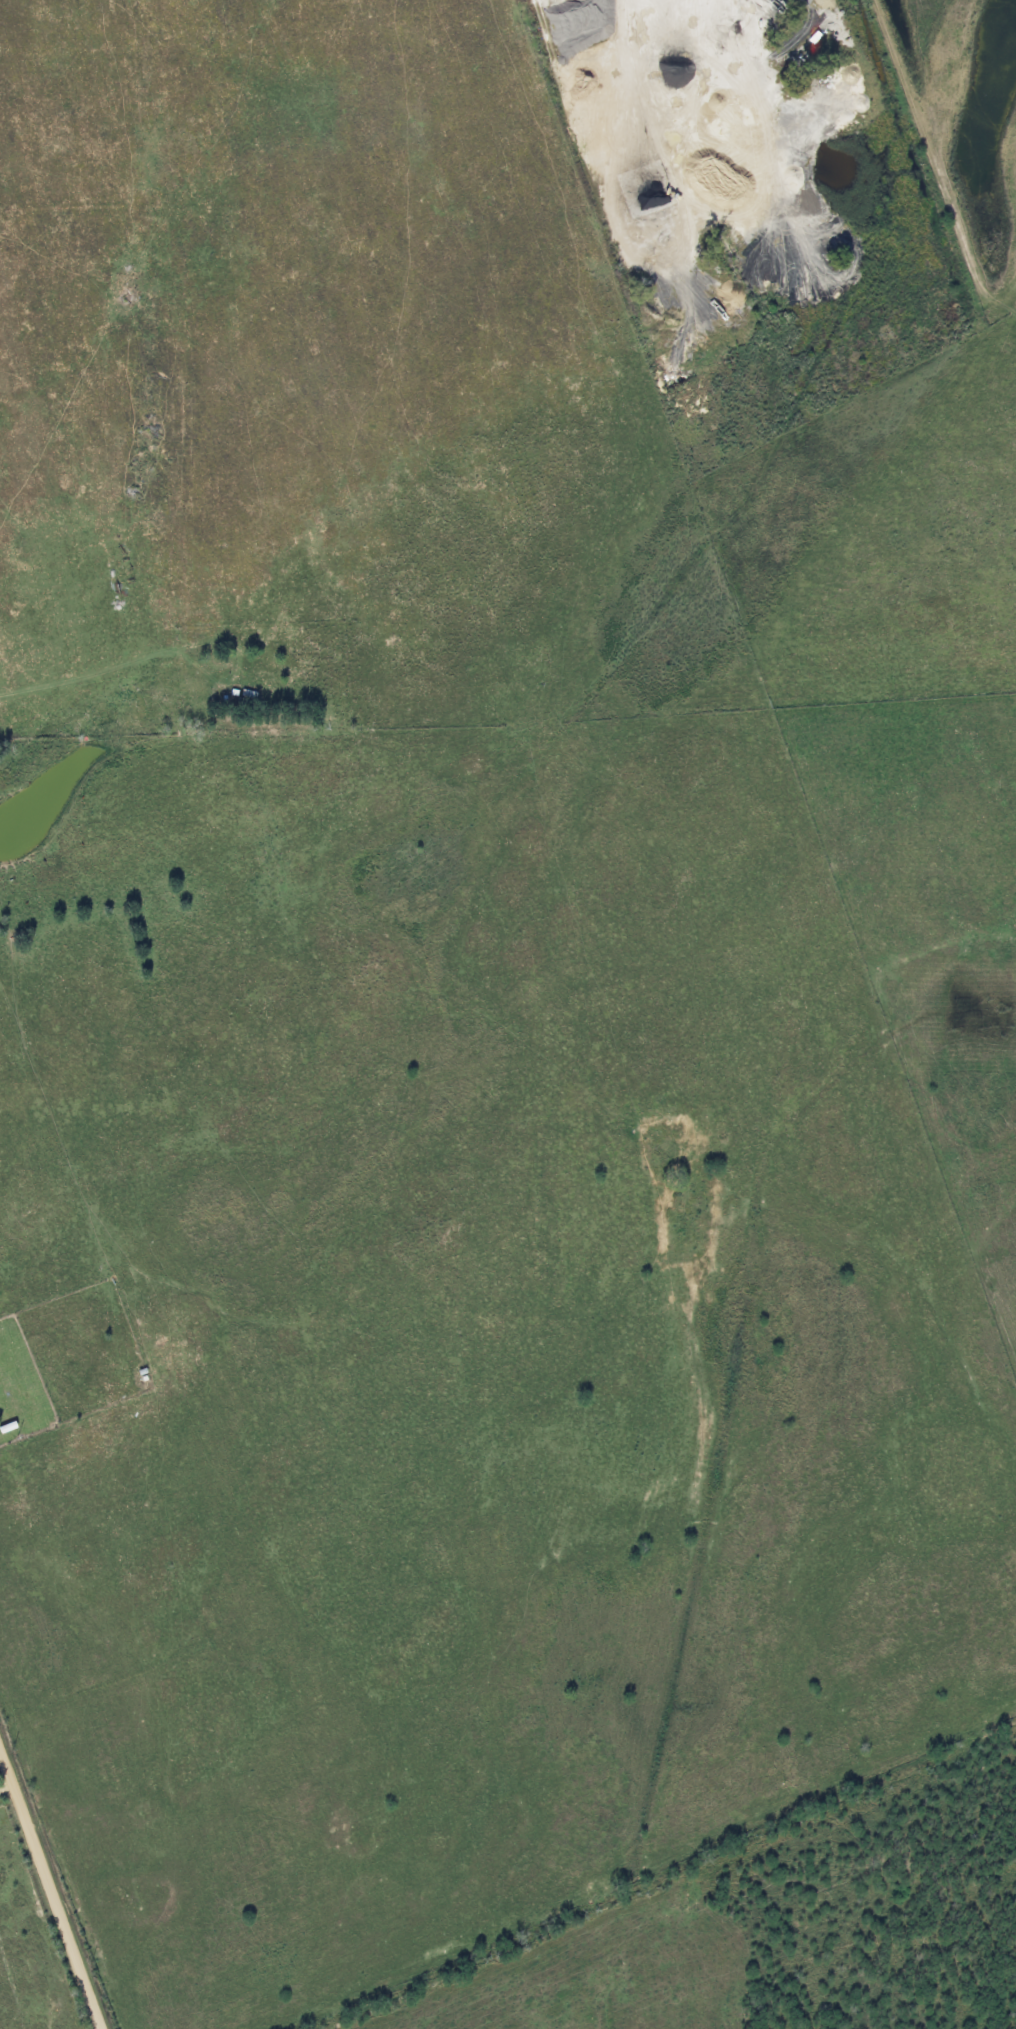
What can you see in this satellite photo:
road: (6, 1786)
road: (50, 1890)

